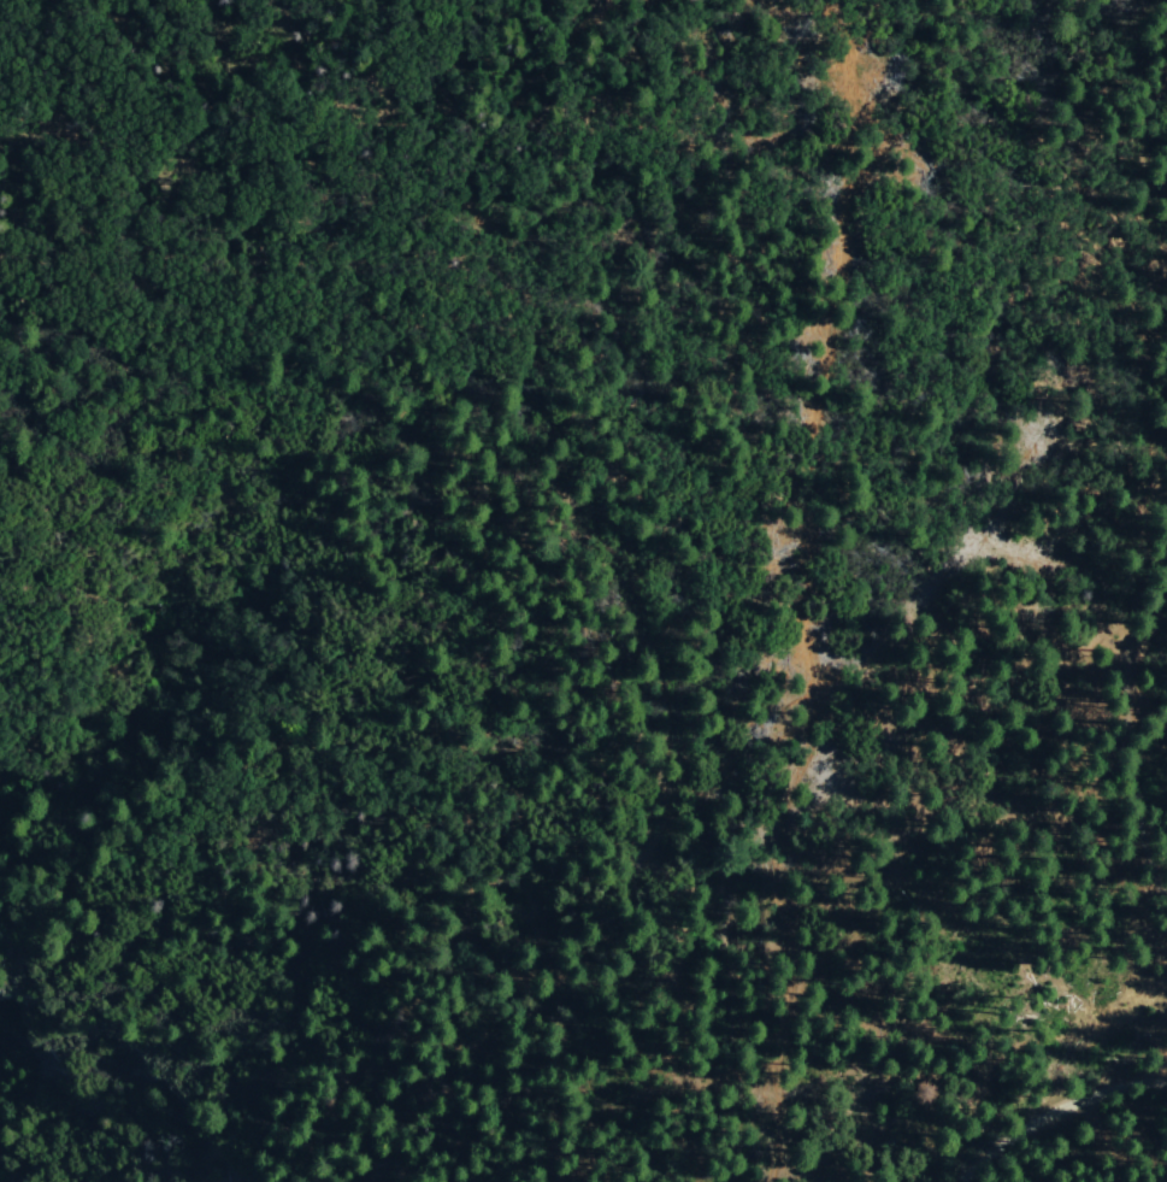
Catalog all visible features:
road: (1120, 1140)

